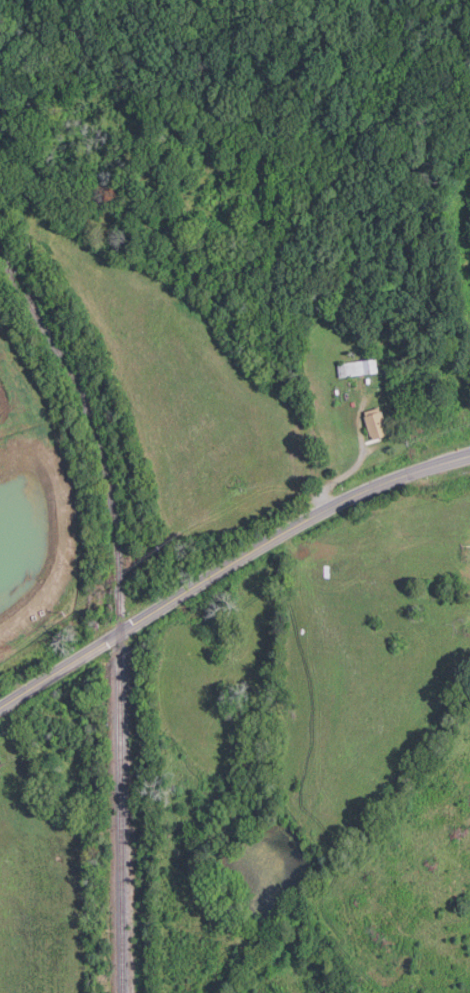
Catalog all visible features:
building: (357, 367)
building: (375, 424)
road: (227, 567)
railway: (120, 608)

